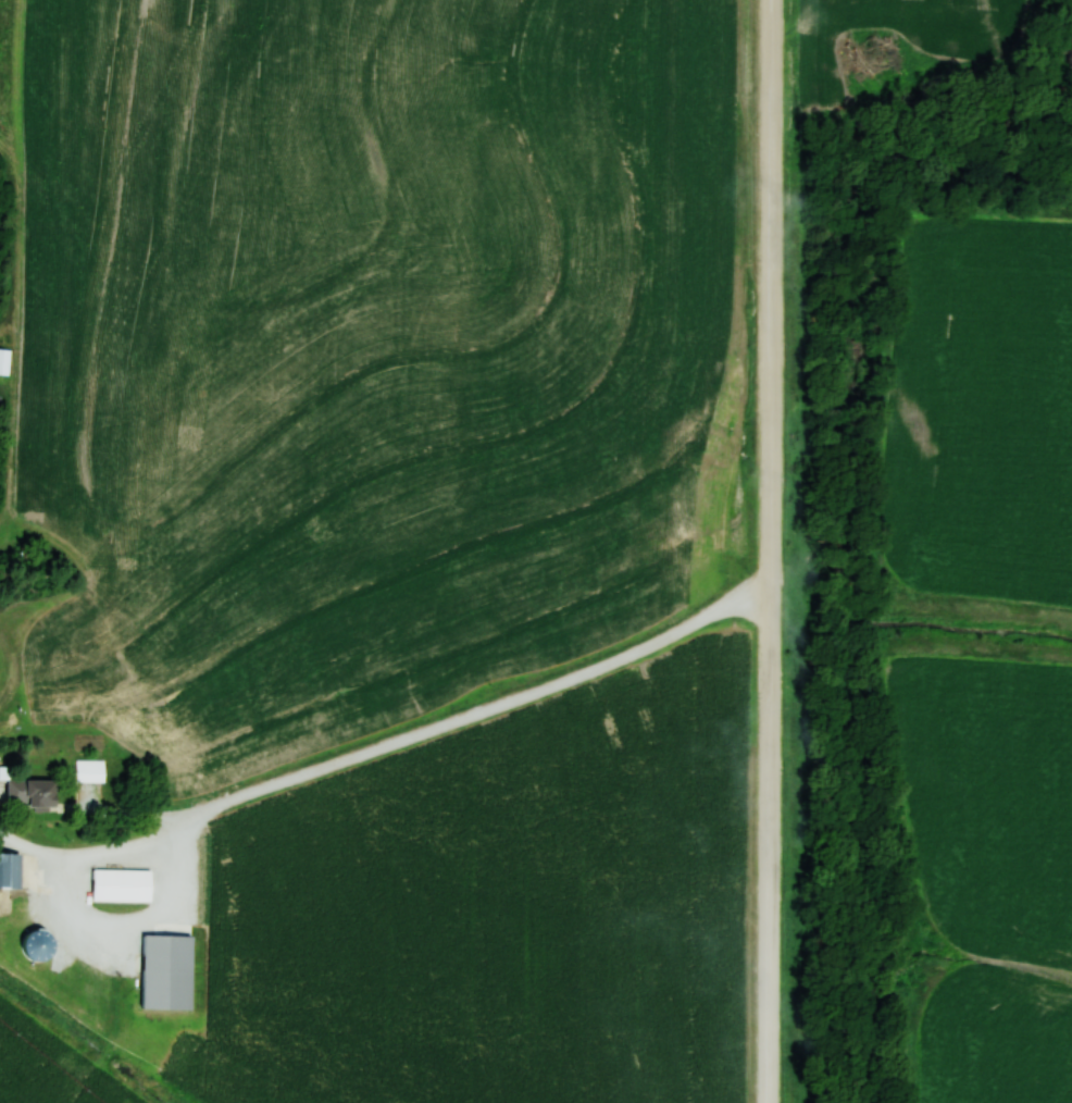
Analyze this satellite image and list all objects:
road: (771, 551)
building: (90, 771)
building: (32, 794)
building: (10, 871)
building: (125, 887)
building: (172, 972)

